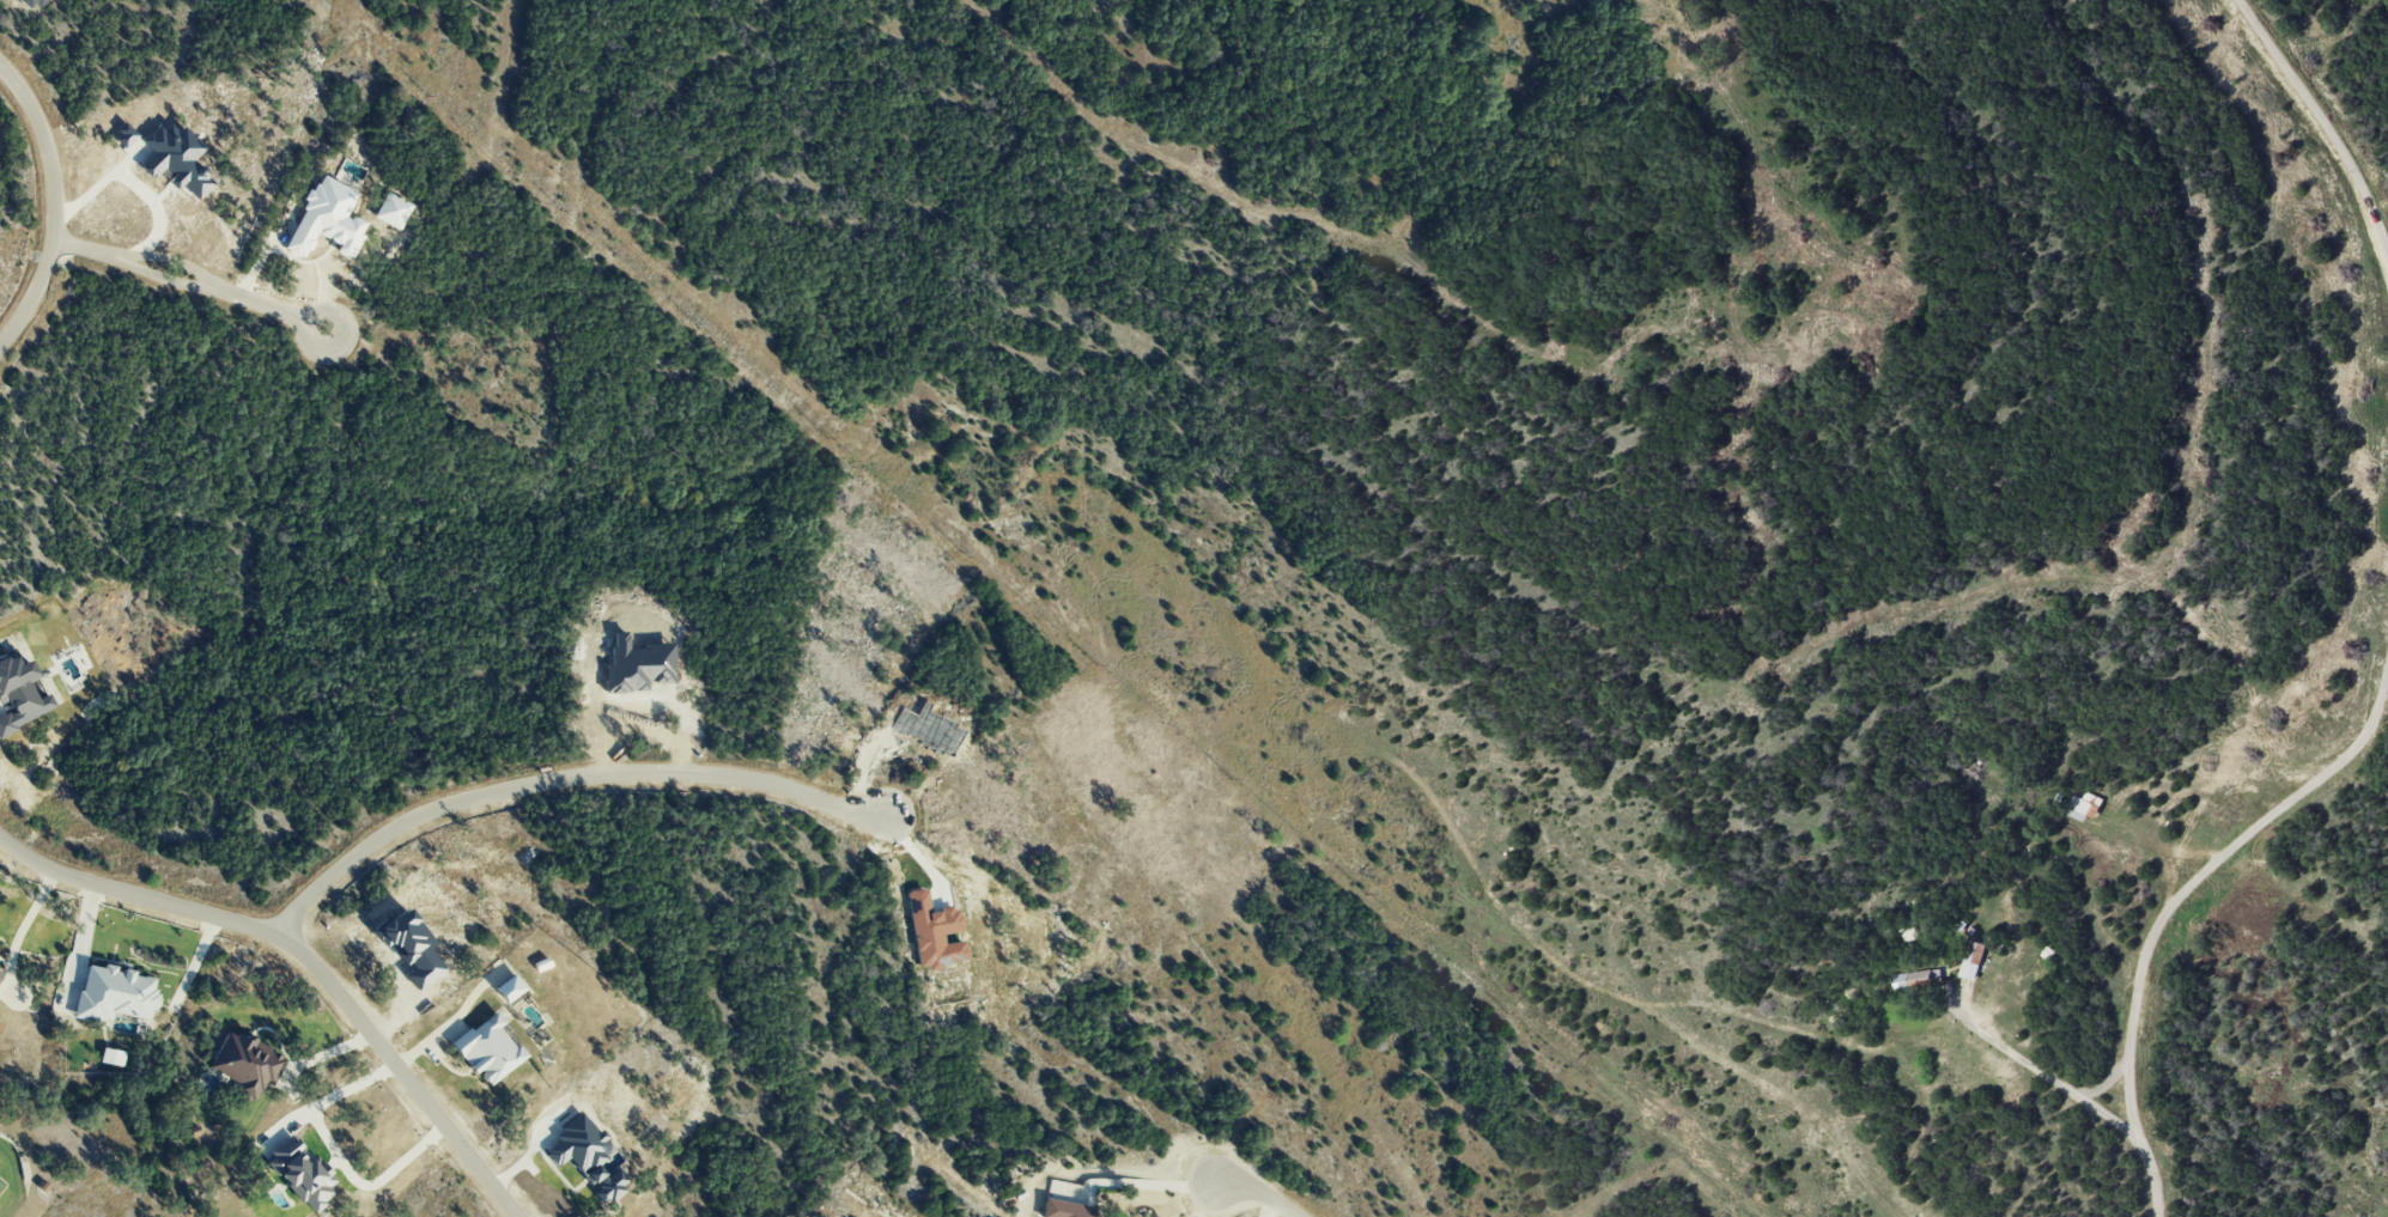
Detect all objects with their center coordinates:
road: (2322, 120)
building: (123, 135)
building: (175, 159)
road: (127, 182)
road: (51, 205)
road: (83, 249)
road: (170, 258)
road: (163, 280)
road: (273, 310)
building: (19, 694)
road: (558, 779)
building: (2084, 807)
road: (915, 851)
road: (2173, 902)
road: (22, 926)
road: (78, 945)
road: (195, 957)
road: (305, 960)
building: (1973, 960)
building: (0, 969)
building: (1916, 979)
building: (509, 987)
building: (114, 993)
road: (449, 1020)
building: (486, 1048)
road: (2006, 1048)
building: (245, 1064)
road: (2086, 1100)
road: (334, 1155)
building: (299, 1172)
road: (1149, 1183)
road: (1256, 1192)
building: (1063, 1209)

